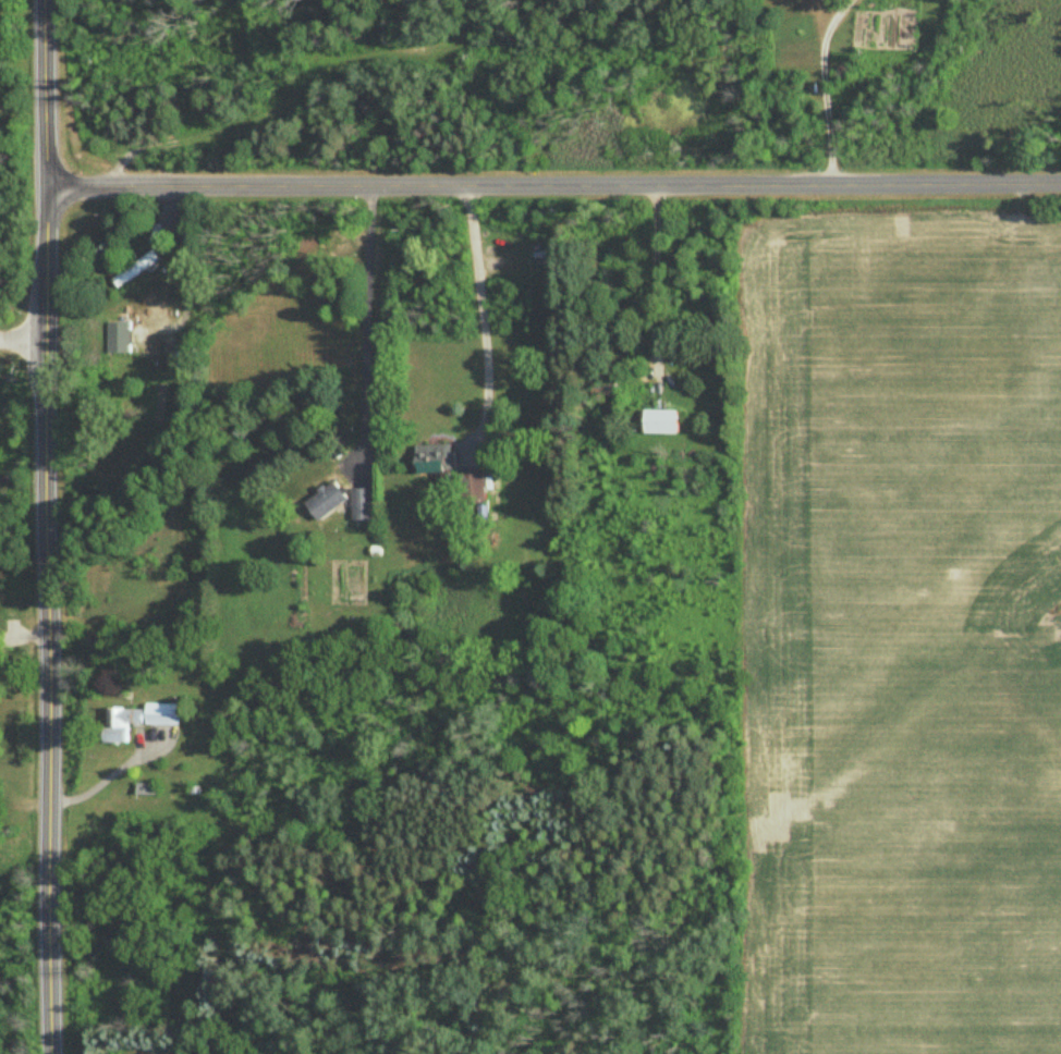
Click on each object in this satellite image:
road: (825, 88)
road: (552, 185)
building: (135, 268)
road: (655, 277)
road: (480, 312)
road: (368, 318)
building: (119, 336)
road: (23, 340)
building: (663, 421)
building: (437, 458)
building: (328, 500)
building: (364, 504)
road: (47, 526)
building: (141, 720)

